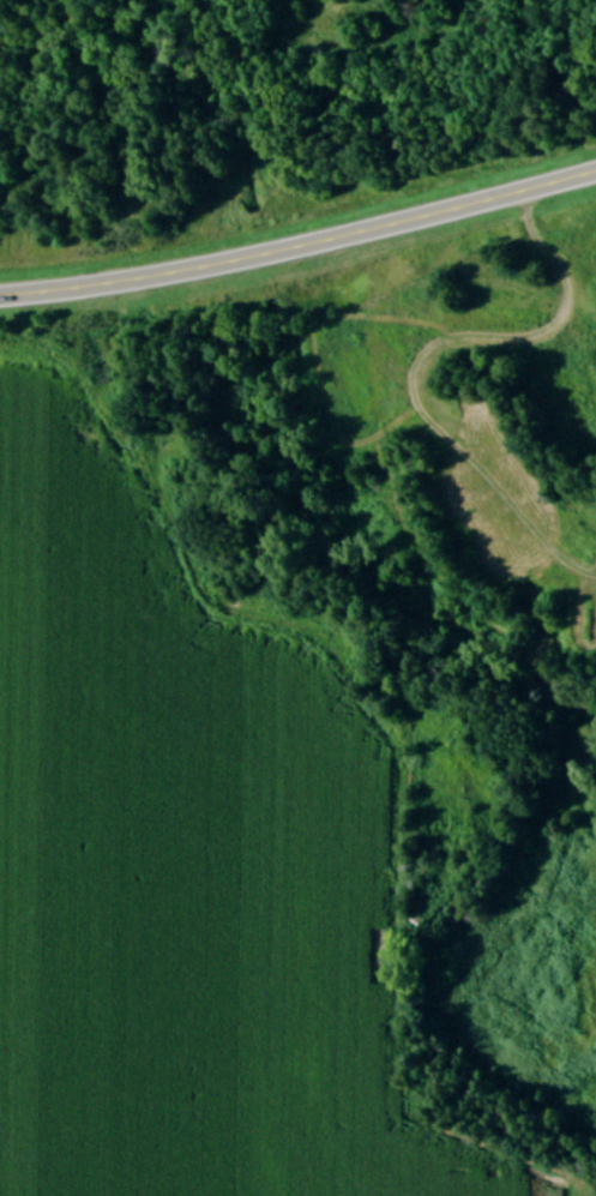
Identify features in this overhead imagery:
road: (300, 247)

